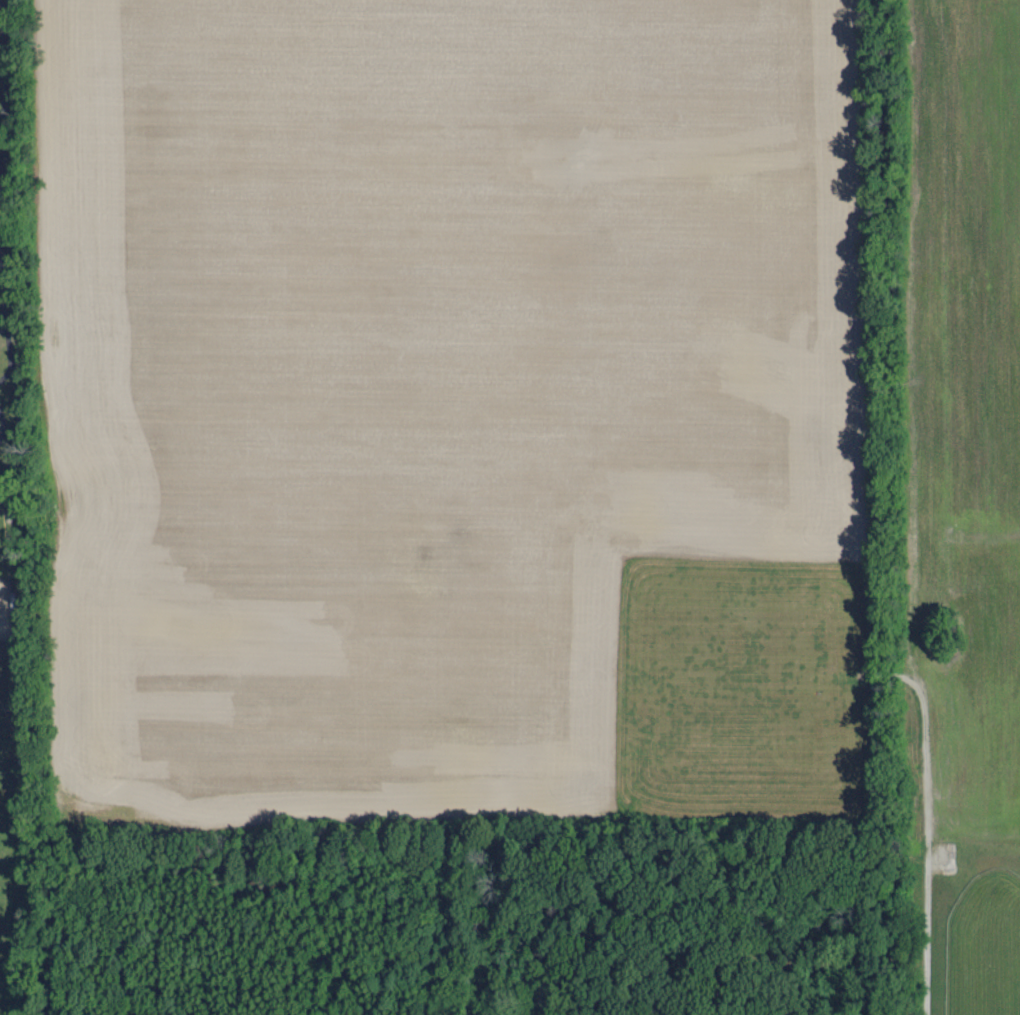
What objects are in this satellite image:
road: (116, 352)

